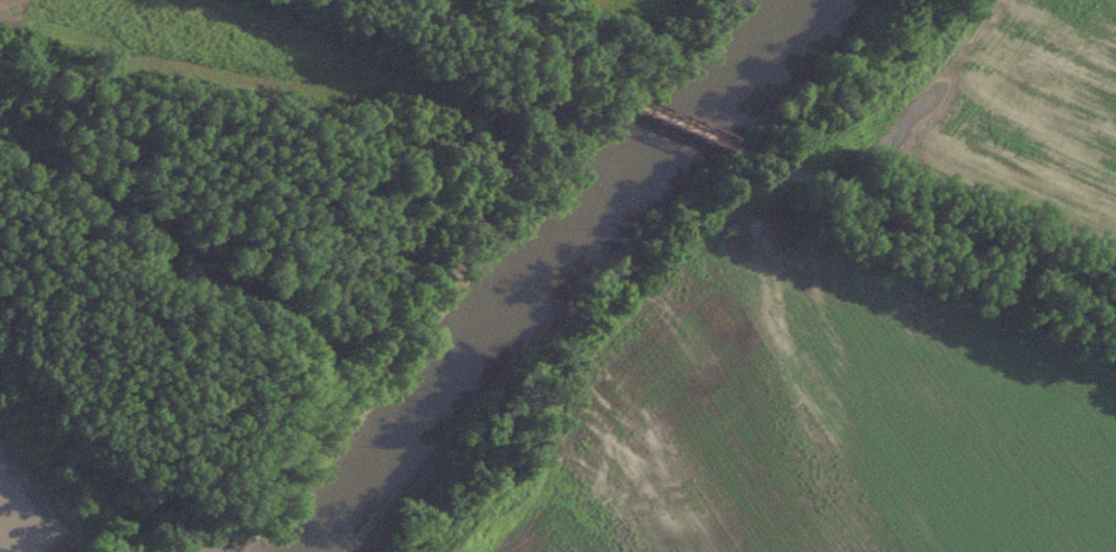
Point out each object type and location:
road: (507, 53)
crop: (1029, 120)
road: (684, 128)
road: (925, 229)
river: (557, 268)
crop: (835, 414)

